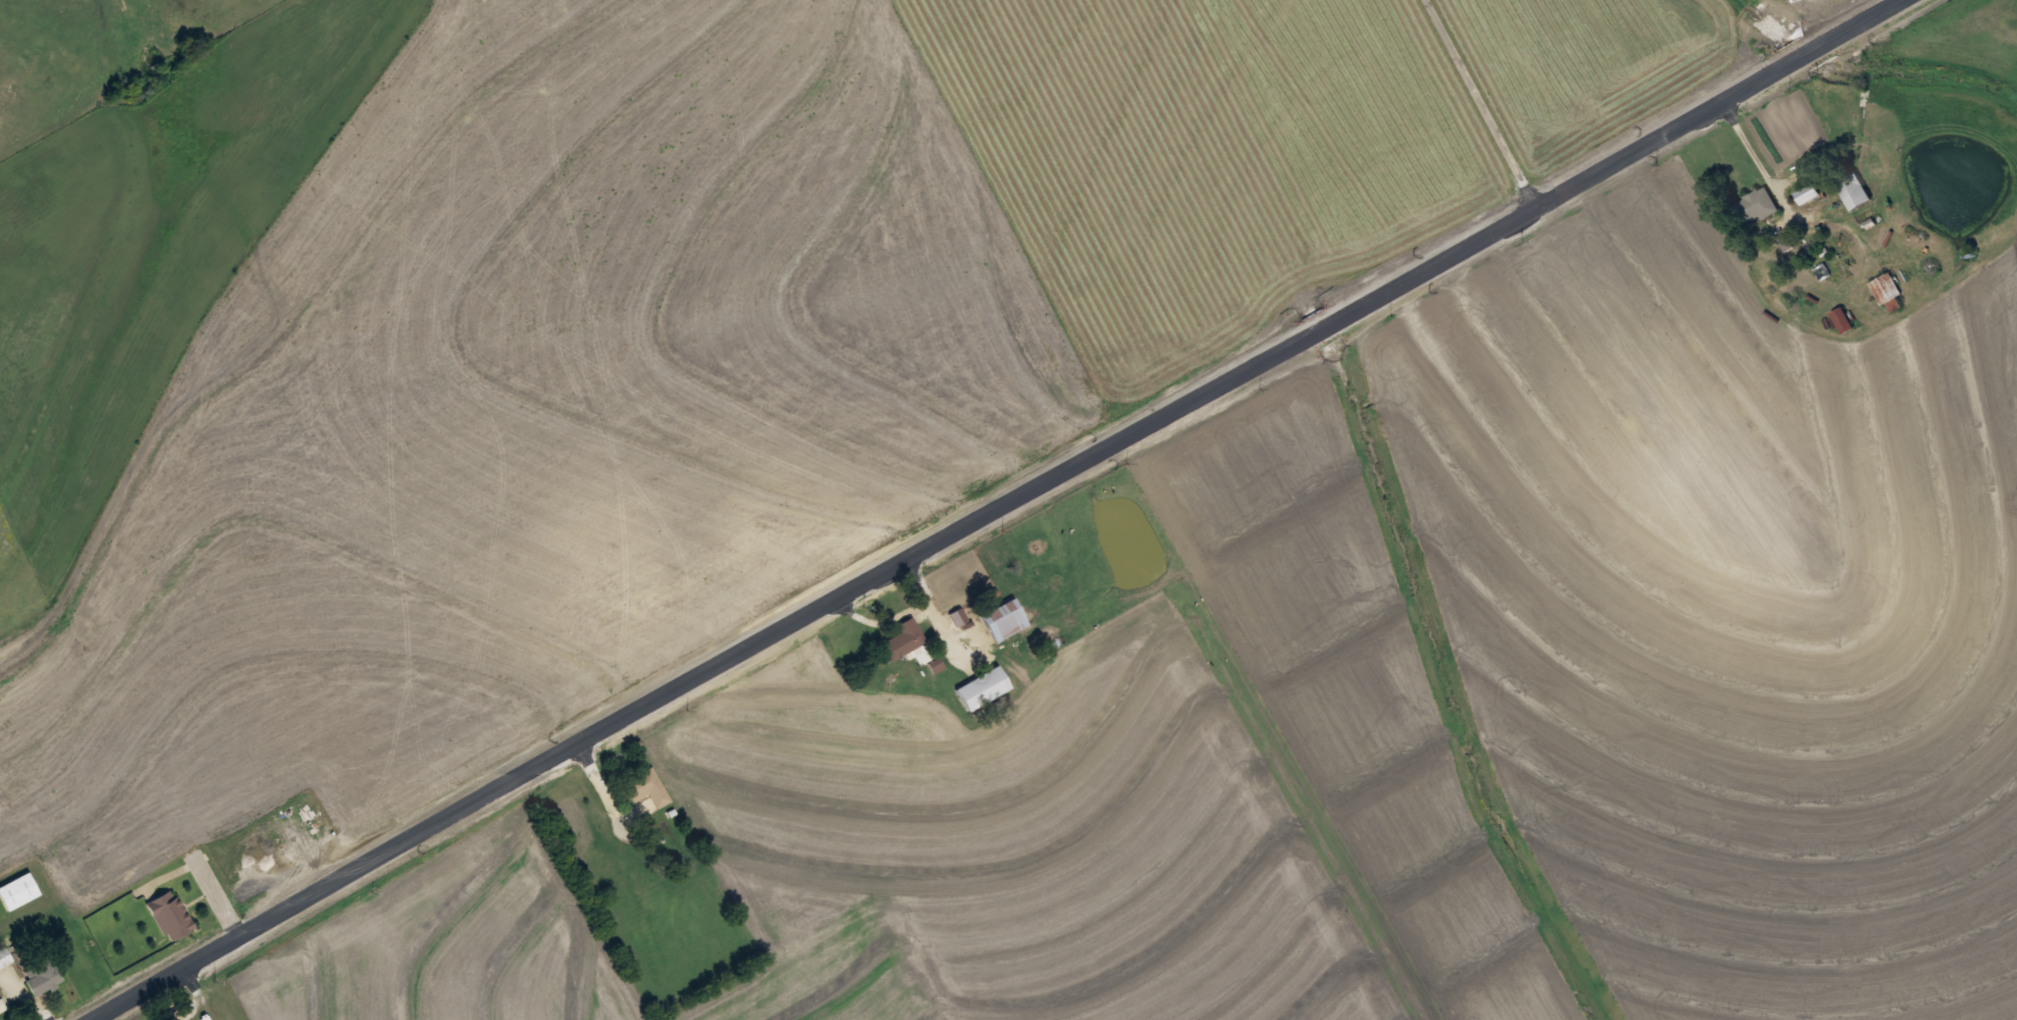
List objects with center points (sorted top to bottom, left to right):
crop: (1821, 4)
crop: (1596, 65)
road: (1483, 100)
building: (1853, 191)
building: (1808, 193)
building: (1759, 204)
building: (1886, 289)
building: (1842, 320)
crop: (601, 345)
road: (993, 509)
crop: (1733, 611)
building: (1004, 619)
building: (905, 637)
crop: (1350, 684)
building: (981, 687)
building: (647, 786)
crop: (1015, 849)
building: (16, 890)
road: (217, 895)
building: (169, 914)
crop: (461, 942)
building: (4, 956)
building: (43, 975)

